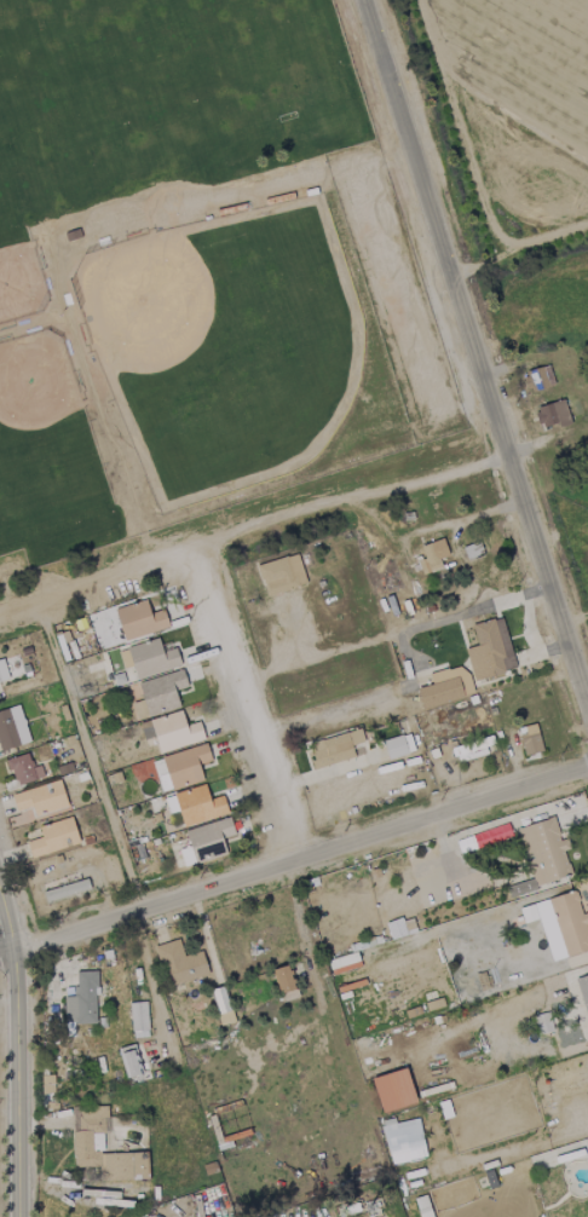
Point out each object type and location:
road: (474, 357)
building: (543, 376)
building: (552, 414)
road: (252, 531)
building: (431, 556)
building: (281, 575)
building: (138, 621)
road: (391, 635)
road: (526, 638)
building: (489, 650)
building: (150, 658)
building: (2, 671)
building: (438, 692)
building: (158, 693)
road: (357, 700)
road: (240, 704)
building: (11, 727)
building: (169, 731)
building: (529, 739)
building: (393, 746)
building: (477, 748)
building: (334, 749)
road: (88, 752)
building: (185, 765)
building: (23, 769)
building: (40, 797)
building: (197, 804)
building: (488, 836)
building: (52, 837)
building: (206, 841)
building: (542, 853)
road: (293, 859)
building: (65, 889)
building: (563, 924)
building: (399, 927)
building: (179, 963)
building: (282, 979)
building: (583, 993)
building: (81, 999)
building: (219, 999)
building: (138, 1019)
road: (12, 1056)
building: (128, 1063)
building: (46, 1083)
building: (392, 1090)
building: (403, 1141)
building: (87, 1142)
building: (422, 1207)

